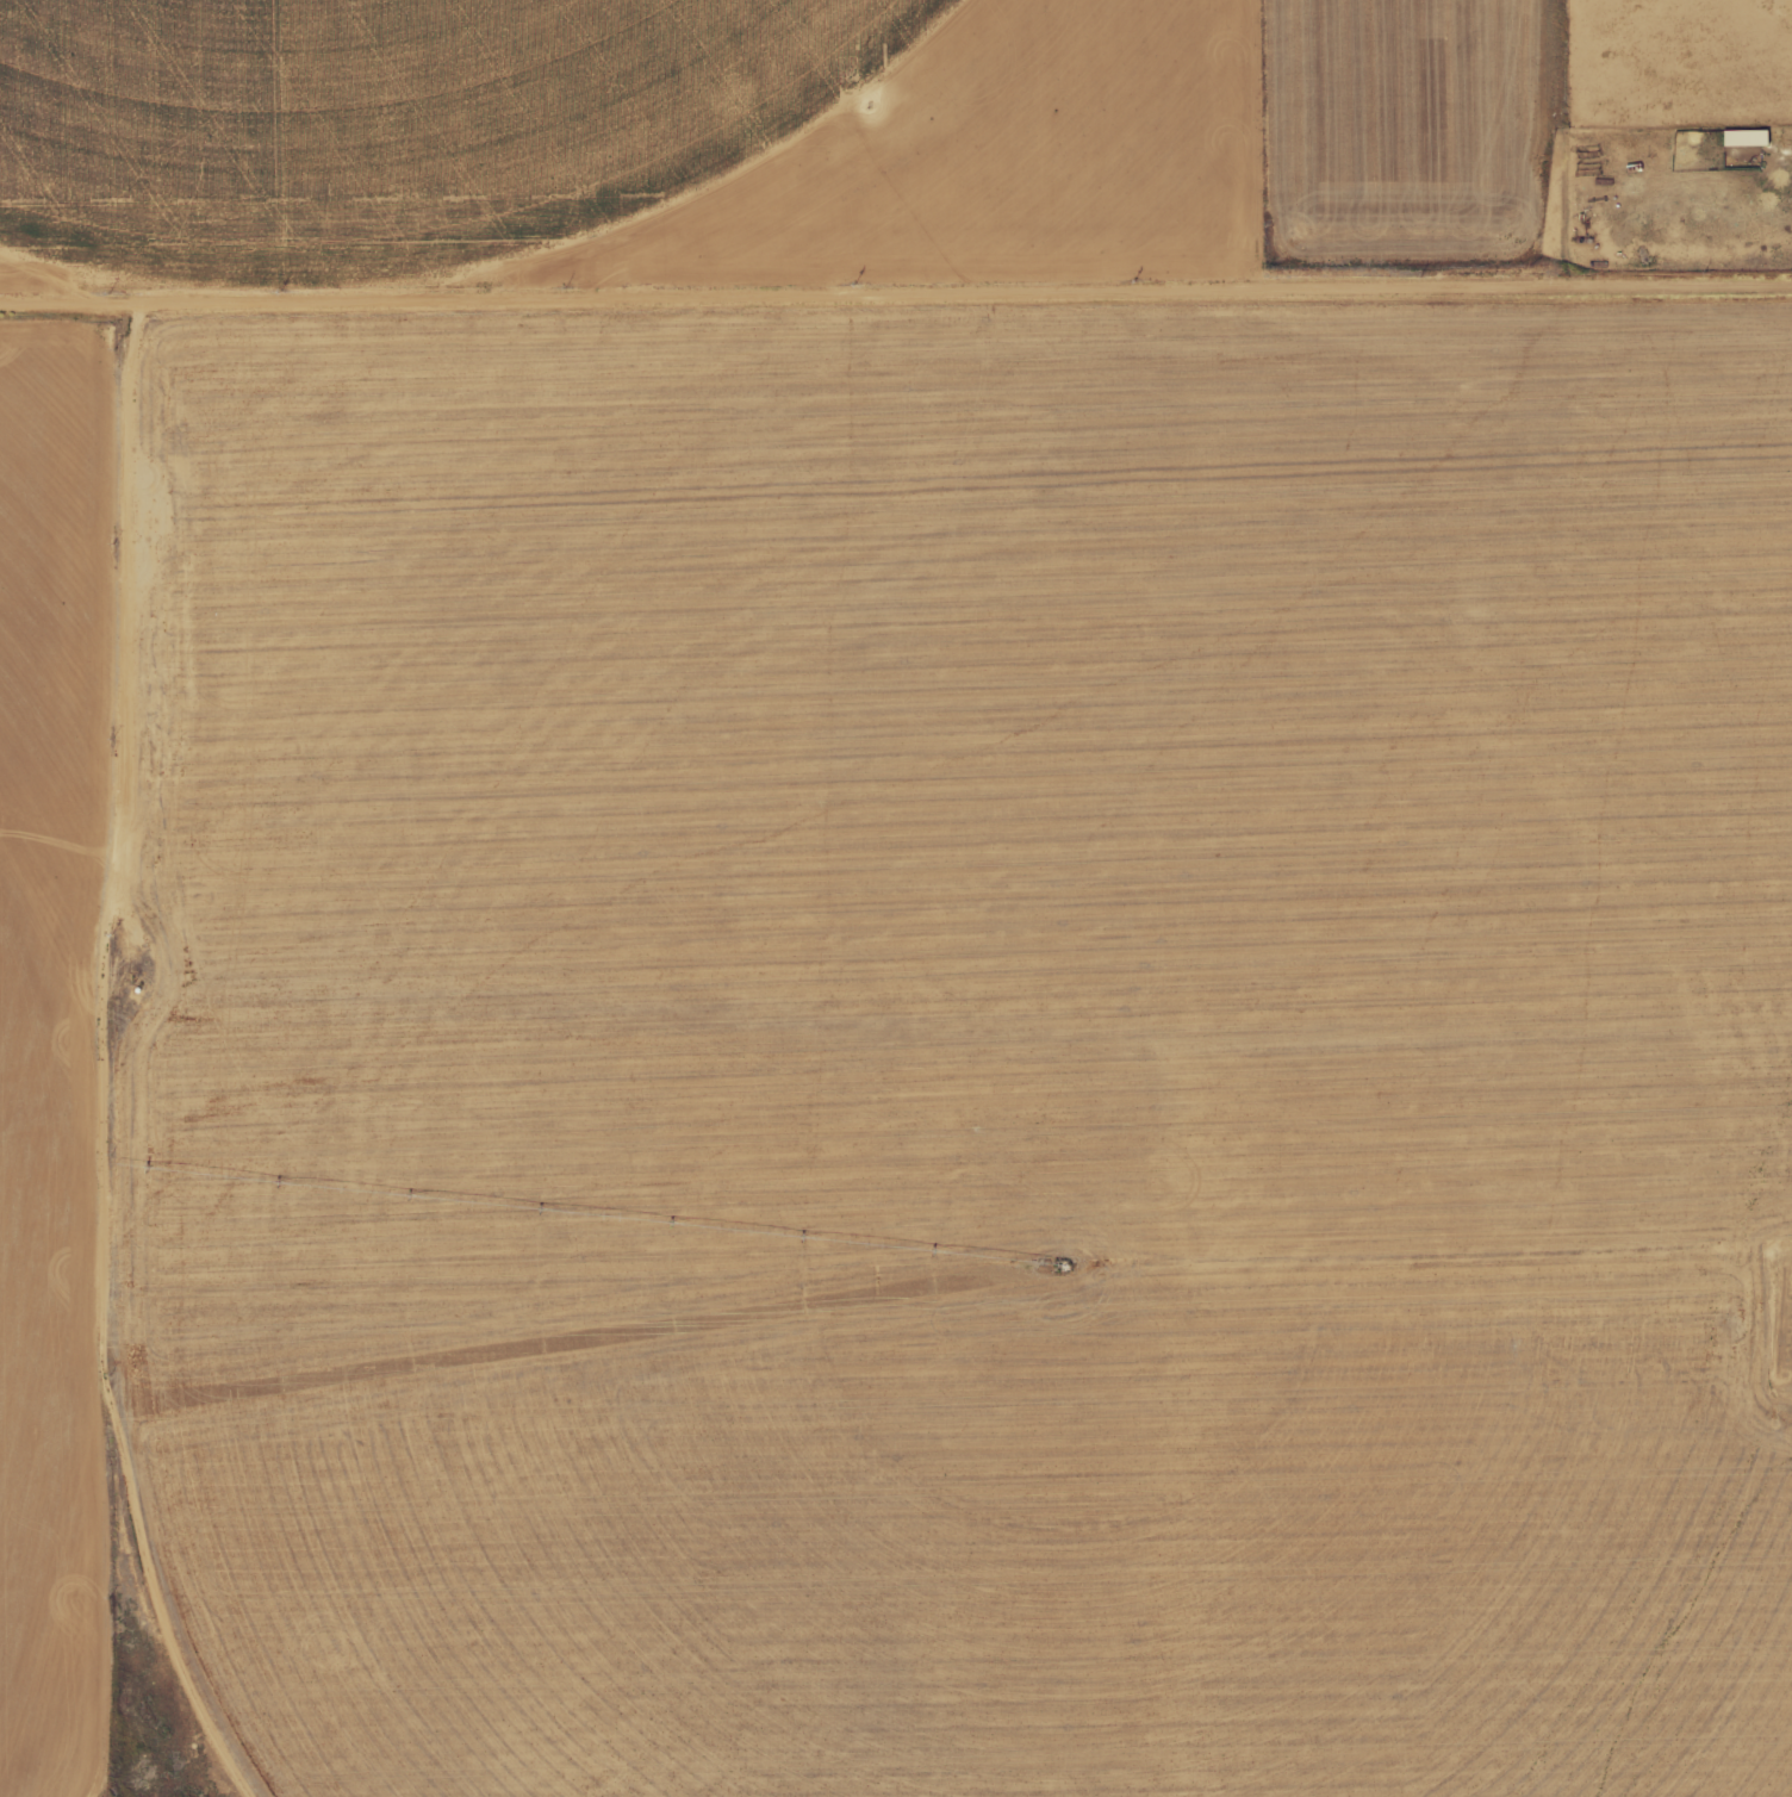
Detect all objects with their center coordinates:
road: (896, 298)

